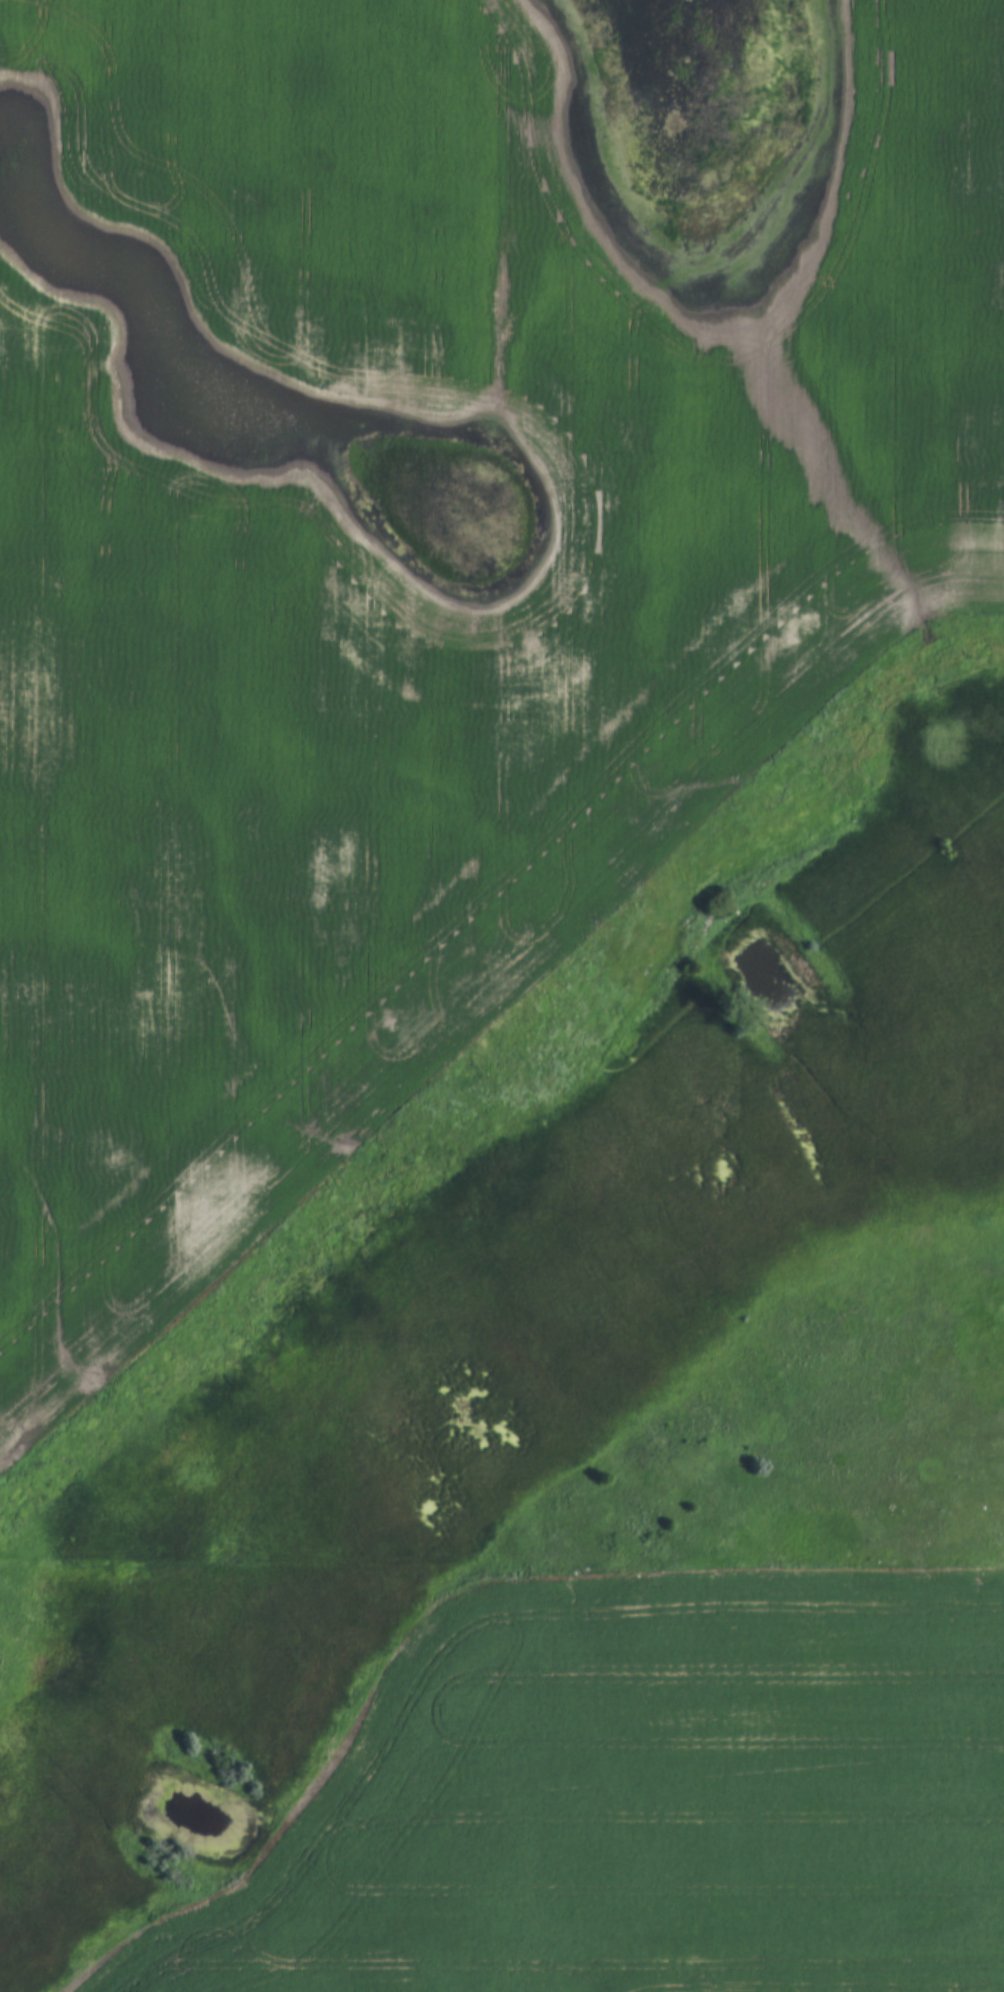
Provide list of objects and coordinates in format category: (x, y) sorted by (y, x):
crop: (349, 806)
crop: (633, 1801)

